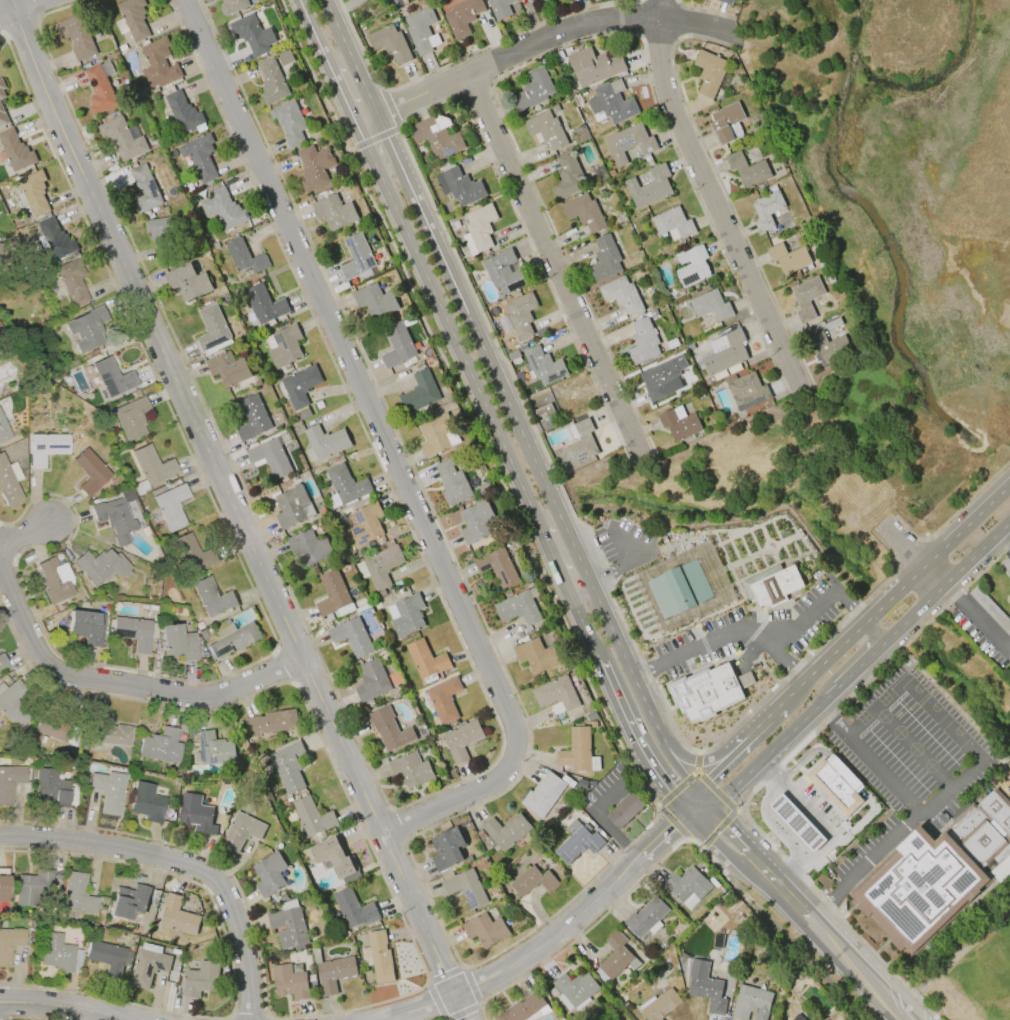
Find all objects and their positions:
building: (448, 0)
building: (540, 0)
building: (542, 1)
building: (726, 2)
road: (21, 6)
building: (232, 6)
building: (500, 8)
building: (464, 17)
building: (132, 19)
building: (420, 29)
building: (252, 34)
building: (76, 36)
building: (389, 43)
road: (535, 44)
building: (285, 57)
building: (157, 64)
building: (593, 66)
building: (708, 72)
building: (271, 81)
building: (1, 88)
building: (100, 88)
building: (533, 90)
building: (611, 102)
building: (183, 113)
building: (2, 117)
building: (289, 122)
building: (725, 122)
building: (546, 129)
building: (121, 138)
building: (436, 138)
building: (628, 143)
building: (15, 151)
building: (199, 156)
building: (314, 167)
building: (747, 169)
building: (566, 175)
building: (459, 186)
building: (649, 187)
building: (143, 189)
building: (33, 193)
road: (712, 194)
building: (222, 209)
building: (766, 209)
building: (334, 212)
building: (584, 212)
building: (672, 223)
building: (157, 229)
building: (478, 229)
building: (54, 239)
building: (0, 246)
building: (356, 256)
building: (244, 257)
building: (788, 258)
road: (555, 259)
building: (604, 259)
building: (691, 266)
building: (501, 270)
building: (72, 280)
building: (187, 282)
building: (621, 295)
building: (806, 298)
building: (375, 301)
building: (710, 305)
building: (264, 306)
building: (518, 316)
building: (833, 323)
building: (87, 329)
building: (212, 331)
building: (643, 341)
building: (396, 345)
building: (283, 346)
building: (828, 347)
building: (727, 353)
building: (512, 355)
road: (489, 366)
building: (543, 366)
building: (228, 369)
building: (112, 377)
building: (663, 378)
building: (300, 384)
building: (746, 391)
building: (419, 392)
building: (4, 401)
road: (485, 411)
building: (543, 411)
building: (252, 417)
building: (131, 418)
building: (678, 424)
building: (4, 430)
building: (435, 436)
building: (580, 441)
building: (324, 443)
road: (386, 446)
building: (45, 448)
building: (270, 456)
building: (152, 465)
building: (90, 472)
building: (9, 482)
building: (452, 483)
building: (345, 487)
building: (170, 506)
building: (290, 506)
road: (235, 511)
building: (116, 516)
building: (476, 522)
building: (364, 523)
road: (26, 536)
road: (1004, 539)
building: (309, 547)
road: (626, 547)
building: (192, 554)
road: (916, 561)
building: (101, 566)
building: (379, 566)
building: (497, 566)
road: (627, 567)
building: (1005, 567)
building: (54, 580)
road: (947, 583)
building: (771, 585)
building: (680, 589)
road: (900, 589)
building: (333, 595)
road: (949, 595)
building: (211, 597)
building: (707, 606)
building: (517, 608)
building: (990, 609)
building: (406, 615)
building: (86, 626)
road: (983, 629)
building: (134, 632)
road: (753, 633)
building: (202, 634)
building: (352, 637)
building: (232, 639)
building: (177, 642)
building: (536, 655)
road: (781, 659)
building: (425, 660)
building: (2, 662)
road: (860, 666)
road: (645, 674)
building: (371, 680)
road: (126, 684)
building: (705, 693)
building: (556, 695)
building: (443, 699)
building: (12, 705)
road: (875, 710)
road: (824, 715)
road: (769, 717)
building: (270, 722)
road: (943, 722)
building: (53, 729)
building: (388, 729)
building: (107, 731)
building: (461, 740)
building: (161, 746)
road: (773, 748)
building: (214, 749)
road: (914, 750)
building: (578, 752)
road: (698, 761)
road: (671, 764)
road: (722, 766)
building: (288, 767)
road: (877, 769)
building: (410, 770)
road: (817, 776)
building: (9, 782)
building: (836, 784)
building: (50, 787)
road: (952, 790)
building: (108, 791)
traffic signals: (696, 792)
building: (543, 794)
road: (704, 799)
road: (691, 802)
building: (147, 803)
traffic signals: (712, 807)
building: (624, 810)
road: (699, 810)
building: (195, 813)
traffic signals: (686, 813)
building: (312, 817)
building: (795, 823)
road: (790, 825)
road: (838, 825)
building: (241, 831)
building: (506, 831)
road: (808, 834)
road: (746, 841)
building: (577, 842)
building: (446, 849)
road: (724, 853)
building: (335, 858)
road: (183, 862)
road: (862, 865)
building: (269, 874)
building: (937, 874)
building: (532, 881)
building: (33, 887)
building: (688, 887)
building: (466, 888)
building: (3, 892)
building: (78, 895)
building: (129, 901)
building: (353, 909)
building: (177, 916)
building: (646, 918)
building: (288, 926)
building: (485, 929)
building: (718, 940)
road: (550, 942)
building: (9, 944)
road: (836, 951)
building: (58, 953)
building: (106, 957)
building: (378, 957)
building: (615, 958)
building: (148, 965)
building: (334, 974)
building: (200, 980)
building: (289, 983)
building: (705, 986)
building: (574, 990)
building: (750, 1003)
building: (659, 1005)
road: (60, 1009)
building: (524, 1009)
building: (797, 1017)

